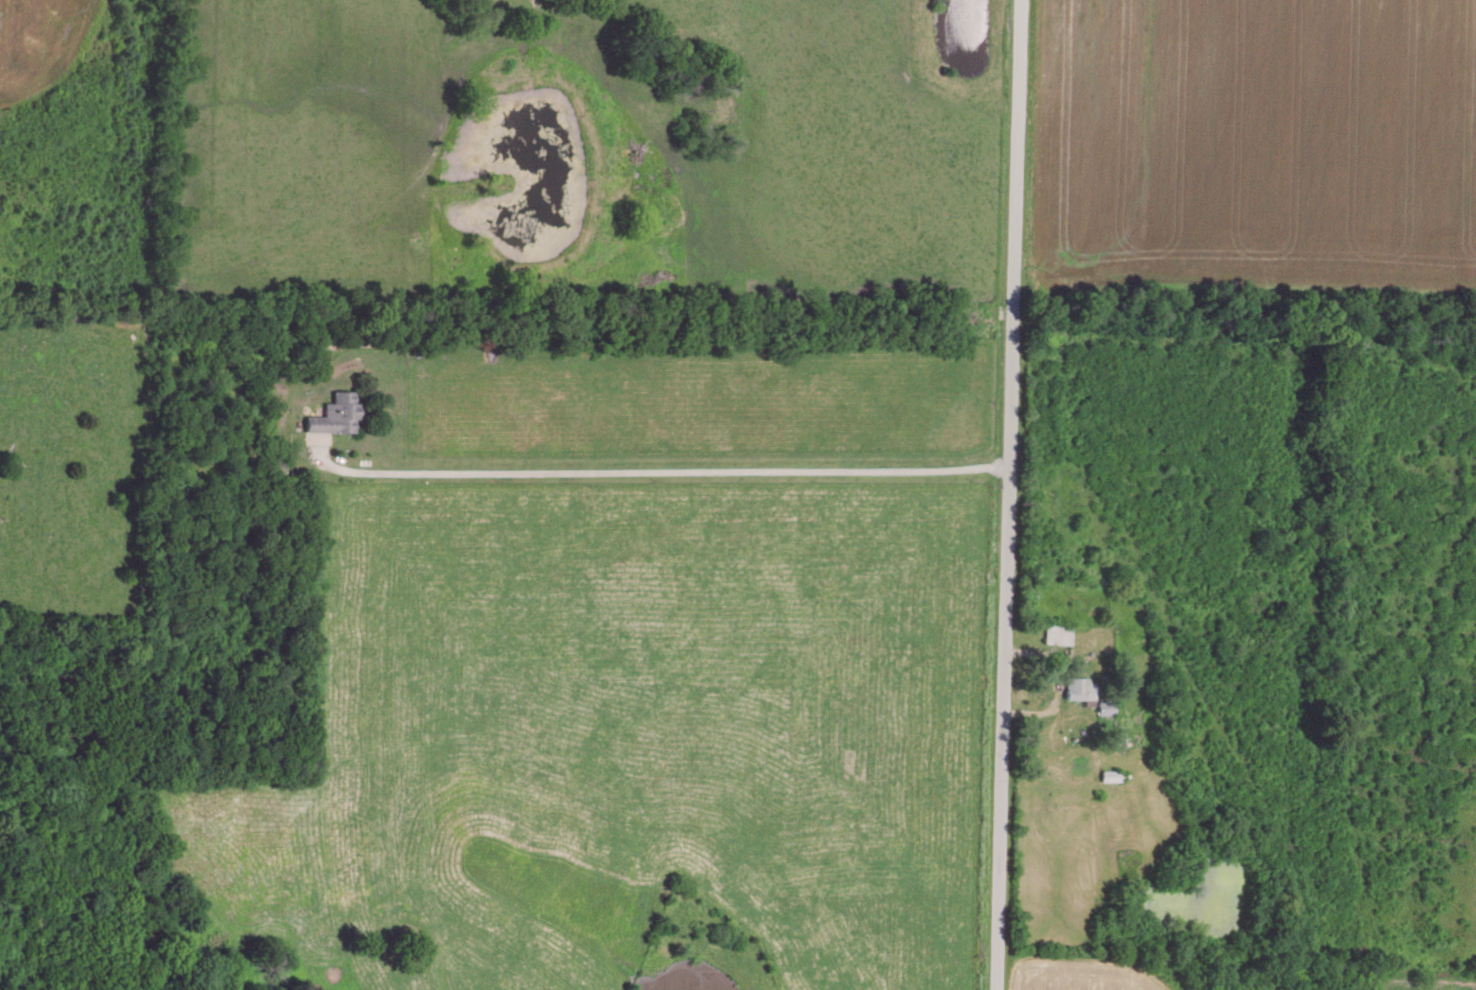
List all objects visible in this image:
building: (338, 412)
road: (659, 471)
road: (1003, 494)
building: (1060, 631)
building: (1082, 686)
building: (1107, 705)

